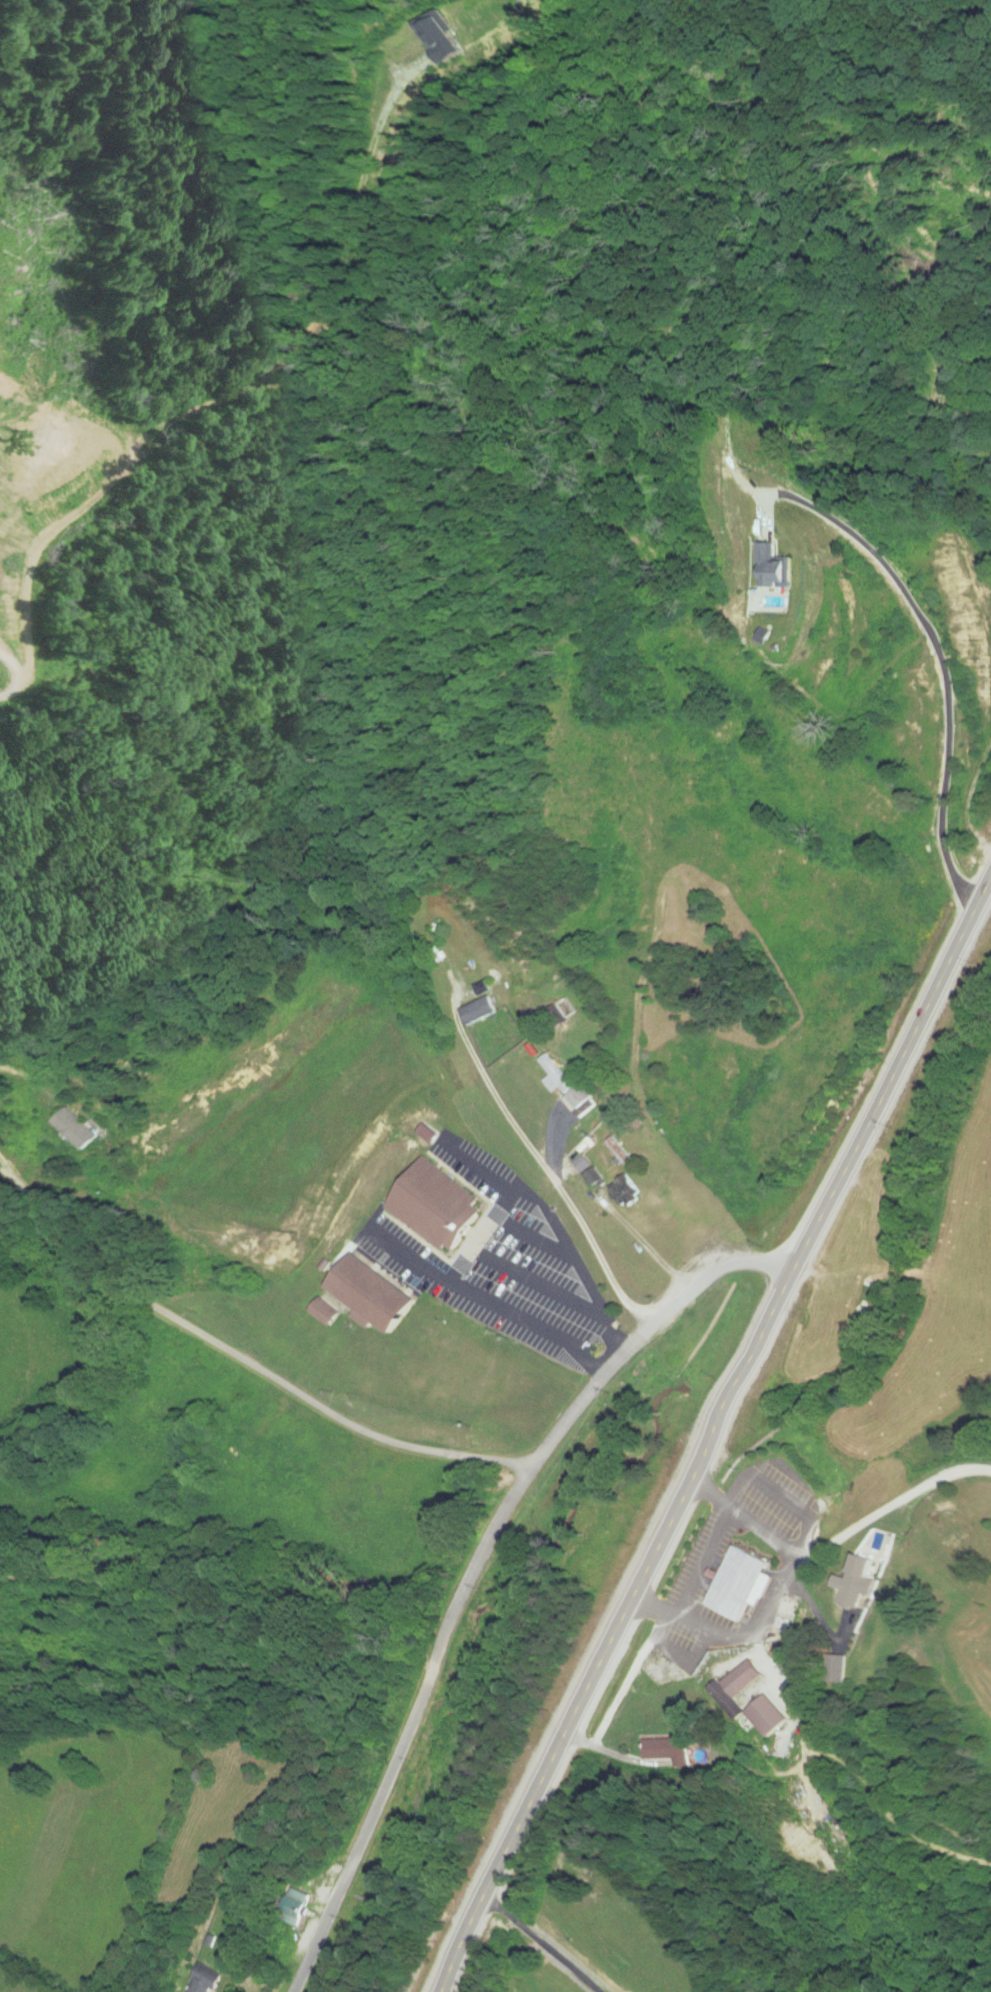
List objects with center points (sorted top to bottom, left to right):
building: (777, 575)
building: (478, 1011)
building: (80, 1129)
building: (621, 1152)
building: (629, 1192)
building: (431, 1207)
building: (372, 1297)
building: (326, 1313)
road: (244, 1364)
road: (716, 1434)
building: (780, 1520)
road: (483, 1569)
building: (870, 1571)
building: (741, 1584)
building: (788, 1618)
building: (746, 1678)
building: (784, 1744)
building: (672, 1748)
building: (204, 1979)

